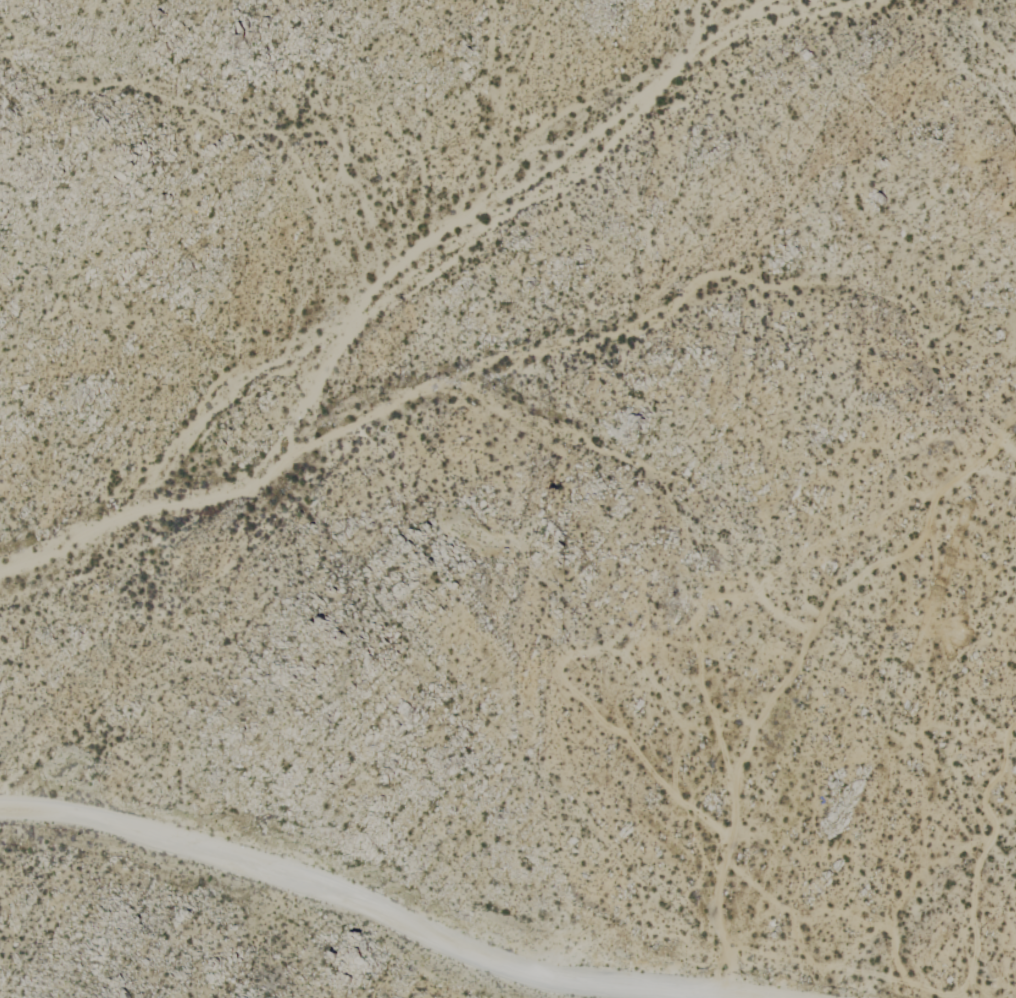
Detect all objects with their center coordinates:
road: (362, 904)

